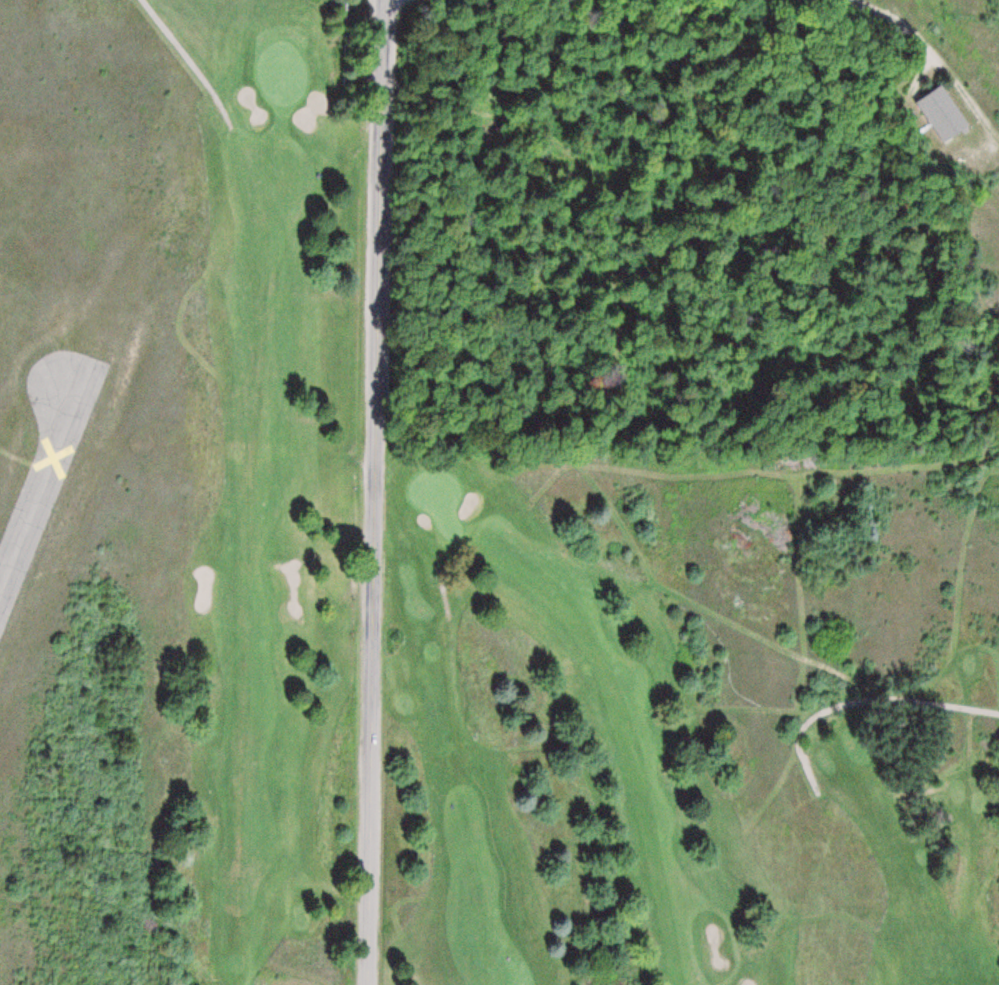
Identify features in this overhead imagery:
road: (931, 48)
road: (188, 58)
building: (944, 113)
airport runway: (47, 483)
park: (580, 491)
road: (378, 492)
road: (442, 585)
road: (864, 701)

